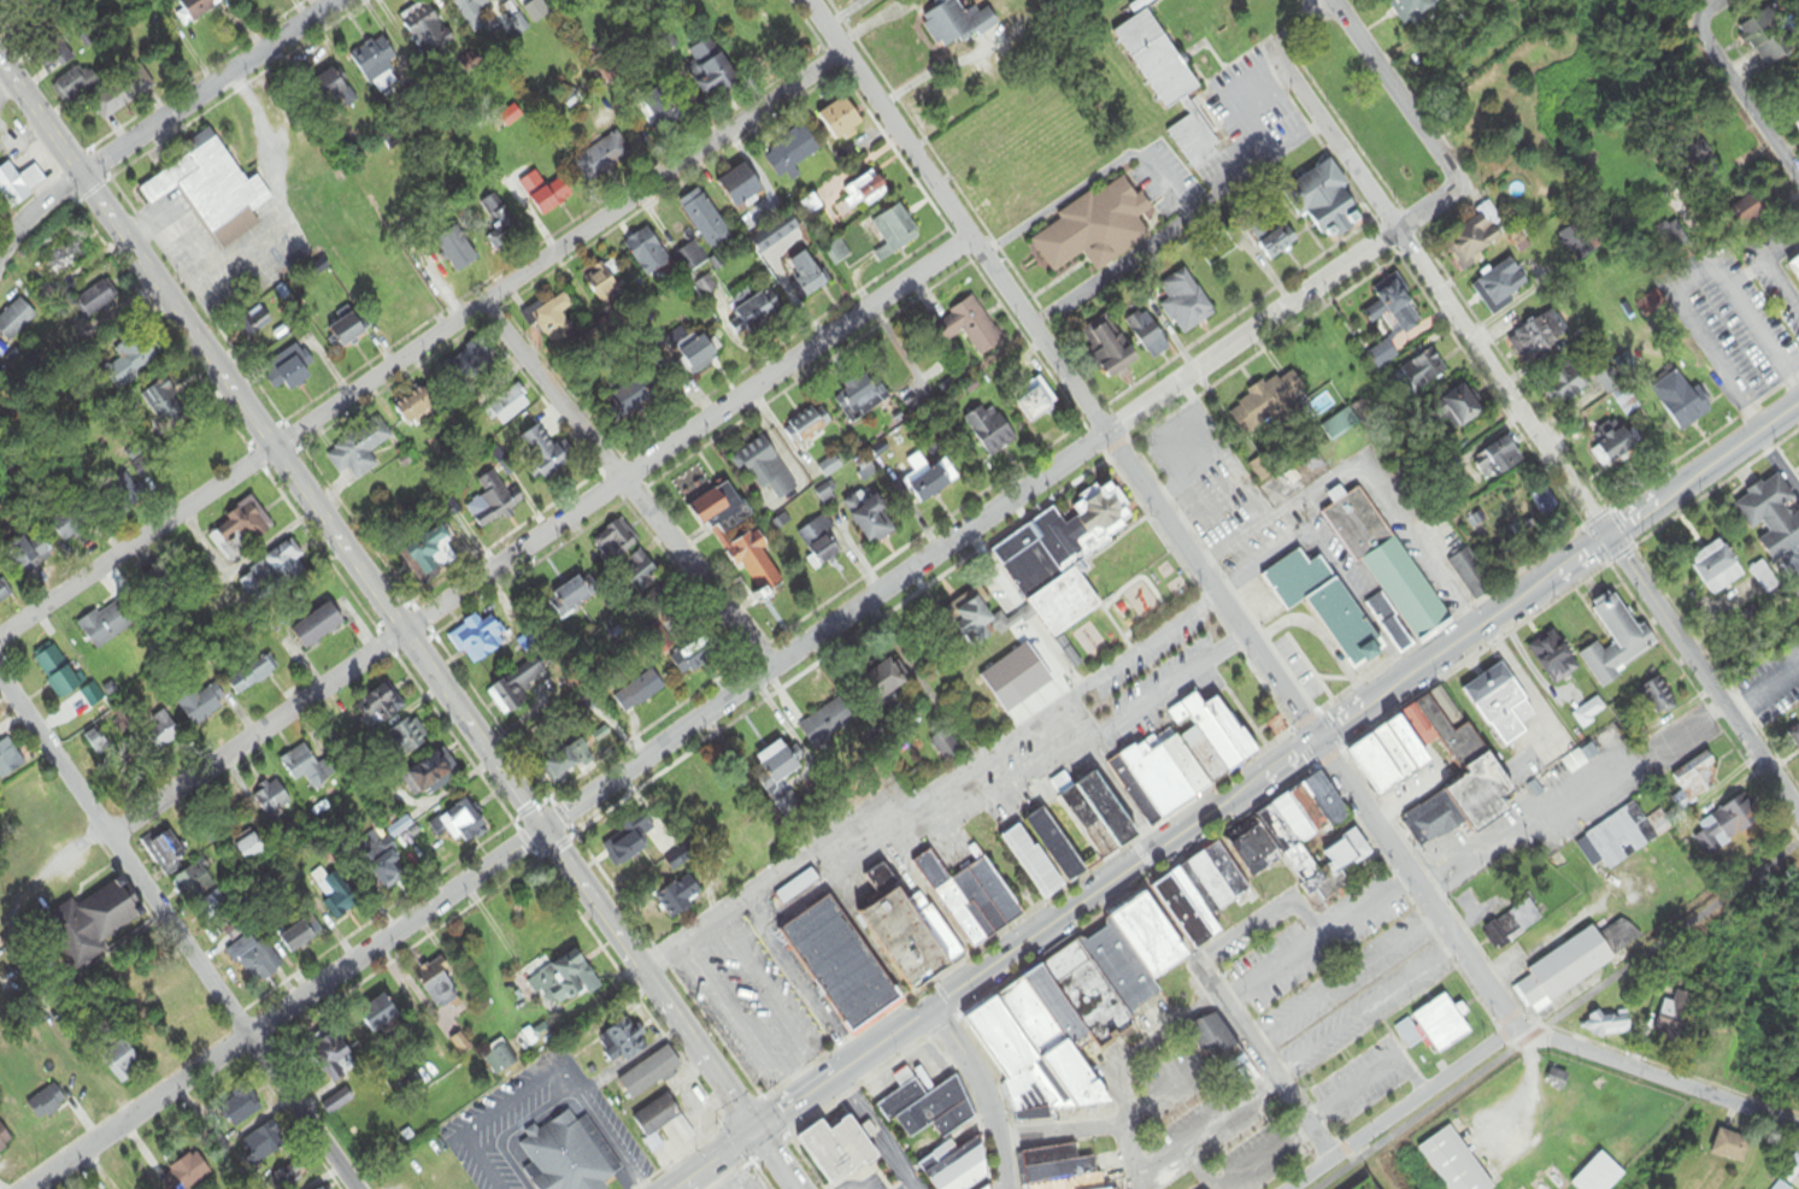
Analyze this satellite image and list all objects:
building: (196, 8)
building: (1413, 8)
building: (471, 11)
building: (537, 11)
road: (846, 12)
road: (1697, 16)
building: (956, 24)
building: (427, 30)
building: (1763, 41)
building: (58, 52)
building: (375, 60)
building: (711, 70)
building: (72, 84)
building: (1169, 84)
road: (217, 89)
road: (1397, 92)
building: (125, 93)
building: (333, 93)
road: (1748, 106)
building: (660, 113)
building: (1795, 117)
building: (841, 118)
building: (792, 153)
building: (602, 158)
building: (18, 184)
building: (742, 188)
building: (865, 189)
building: (1013, 189)
building: (212, 190)
building: (547, 193)
building: (1325, 201)
building: (1747, 212)
building: (705, 219)
road: (40, 220)
building: (500, 224)
building: (1097, 228)
building: (895, 232)
building: (1476, 239)
building: (1519, 239)
building: (1577, 242)
building: (458, 251)
building: (647, 253)
building: (66, 257)
building: (690, 258)
building: (1795, 267)
road: (1418, 271)
building: (806, 276)
building: (606, 281)
building: (705, 287)
building: (1501, 287)
building: (98, 300)
building: (1186, 304)
building: (1394, 306)
building: (758, 312)
road: (1282, 313)
building: (16, 319)
building: (553, 319)
building: (970, 328)
building: (261, 329)
building: (349, 330)
building: (1148, 335)
building: (1540, 339)
road: (424, 348)
building: (694, 352)
building: (1115, 353)
building: (1382, 355)
building: (131, 360)
building: (466, 365)
building: (290, 370)
road: (1063, 370)
building: (1424, 372)
building: (1566, 387)
road: (1488, 392)
road: (1524, 395)
building: (4, 398)
building: (639, 399)
building: (858, 399)
building: (1679, 399)
building: (164, 402)
building: (1269, 402)
building: (1037, 406)
building: (1465, 407)
building: (510, 408)
building: (417, 410)
building: (807, 425)
building: (1340, 426)
building: (990, 431)
road: (1744, 440)
road: (1700, 441)
building: (1616, 447)
building: (359, 451)
building: (546, 454)
building: (1501, 459)
road: (1776, 466)
building: (768, 470)
building: (928, 478)
road: (630, 487)
road: (1713, 487)
building: (119, 496)
building: (490, 502)
building: (1545, 502)
road: (1647, 506)
road: (1606, 511)
road: (1592, 517)
building: (1772, 518)
building: (870, 519)
building: (70, 525)
road: (1618, 529)
building: (241, 530)
traffic signals: (1607, 535)
road: (546, 536)
building: (615, 542)
building: (748, 542)
building: (821, 542)
road: (1595, 543)
road: (1550, 546)
road: (1618, 553)
building: (33, 554)
building: (431, 554)
building: (1064, 559)
road: (1571, 559)
building: (1387, 564)
building: (1719, 571)
building: (641, 572)
building: (274, 573)
building: (1472, 576)
building: (4, 593)
building: (154, 593)
road: (375, 596)
building: (574, 598)
building: (1328, 607)
road: (1640, 612)
building: (982, 620)
building: (107, 625)
building: (318, 629)
building: (477, 640)
building: (1617, 642)
building: (692, 657)
building: (1554, 658)
building: (1000, 660)
road: (1427, 663)
building: (57, 675)
building: (253, 676)
road: (1701, 676)
road: (1523, 682)
building: (882, 684)
building: (515, 689)
road: (1763, 690)
building: (639, 691)
building: (1657, 700)
building: (1500, 702)
building: (201, 705)
building: (381, 706)
building: (1589, 713)
building: (595, 722)
building: (823, 725)
road: (1687, 726)
building: (161, 731)
building: (407, 738)
building: (1797, 740)
traffic signals: (1317, 741)
building: (946, 746)
building: (1582, 758)
building: (1183, 759)
building: (1434, 759)
building: (8, 760)
building: (568, 763)
building: (305, 766)
building: (777, 770)
building: (430, 775)
road: (1106, 781)
building: (1697, 782)
road: (934, 795)
road: (1268, 796)
building: (23, 797)
building: (272, 800)
road: (572, 810)
building: (466, 822)
building: (1431, 822)
building: (1727, 824)
road: (1518, 829)
building: (1071, 836)
building: (1618, 836)
building: (1303, 838)
building: (633, 842)
building: (251, 849)
building: (166, 852)
building: (382, 863)
building: (194, 884)
building: (333, 894)
building: (680, 896)
building: (1207, 896)
building: (972, 899)
road: (1259, 913)
building: (218, 914)
building: (98, 924)
building: (1512, 925)
road: (182, 929)
building: (906, 930)
building: (1623, 934)
road: (1036, 935)
building: (301, 936)
road: (1317, 940)
building: (252, 961)
building: (842, 966)
building: (1566, 969)
building: (568, 979)
road: (1347, 981)
building: (437, 984)
road: (1364, 1007)
road: (1500, 1008)
building: (1077, 1010)
building: (378, 1014)
road: (1559, 1017)
building: (1676, 1017)
building: (1610, 1025)
building: (1435, 1026)
building: (622, 1042)
building: (1223, 1053)
building: (335, 1059)
building: (504, 1059)
road: (1263, 1059)
building: (122, 1061)
building: (651, 1073)
building: (1558, 1079)
road: (986, 1091)
building: (339, 1102)
building: (46, 1103)
building: (242, 1107)
building: (927, 1107)
road: (1403, 1109)
building: (655, 1122)
road: (1099, 1126)
traffic signals: (757, 1130)
road: (1198, 1130)
building: (5, 1140)
building: (827, 1140)
building: (260, 1146)
building: (1733, 1147)
road: (1124, 1149)
building: (564, 1158)
road: (713, 1159)
road: (777, 1159)
building: (1456, 1162)
building: (957, 1166)
building: (1060, 1169)
building: (1792, 1170)
building: (186, 1173)
road: (1239, 1173)
building: (1600, 1175)
building: (289, 1177)
building: (989, 1188)
building: (1116, 1188)

